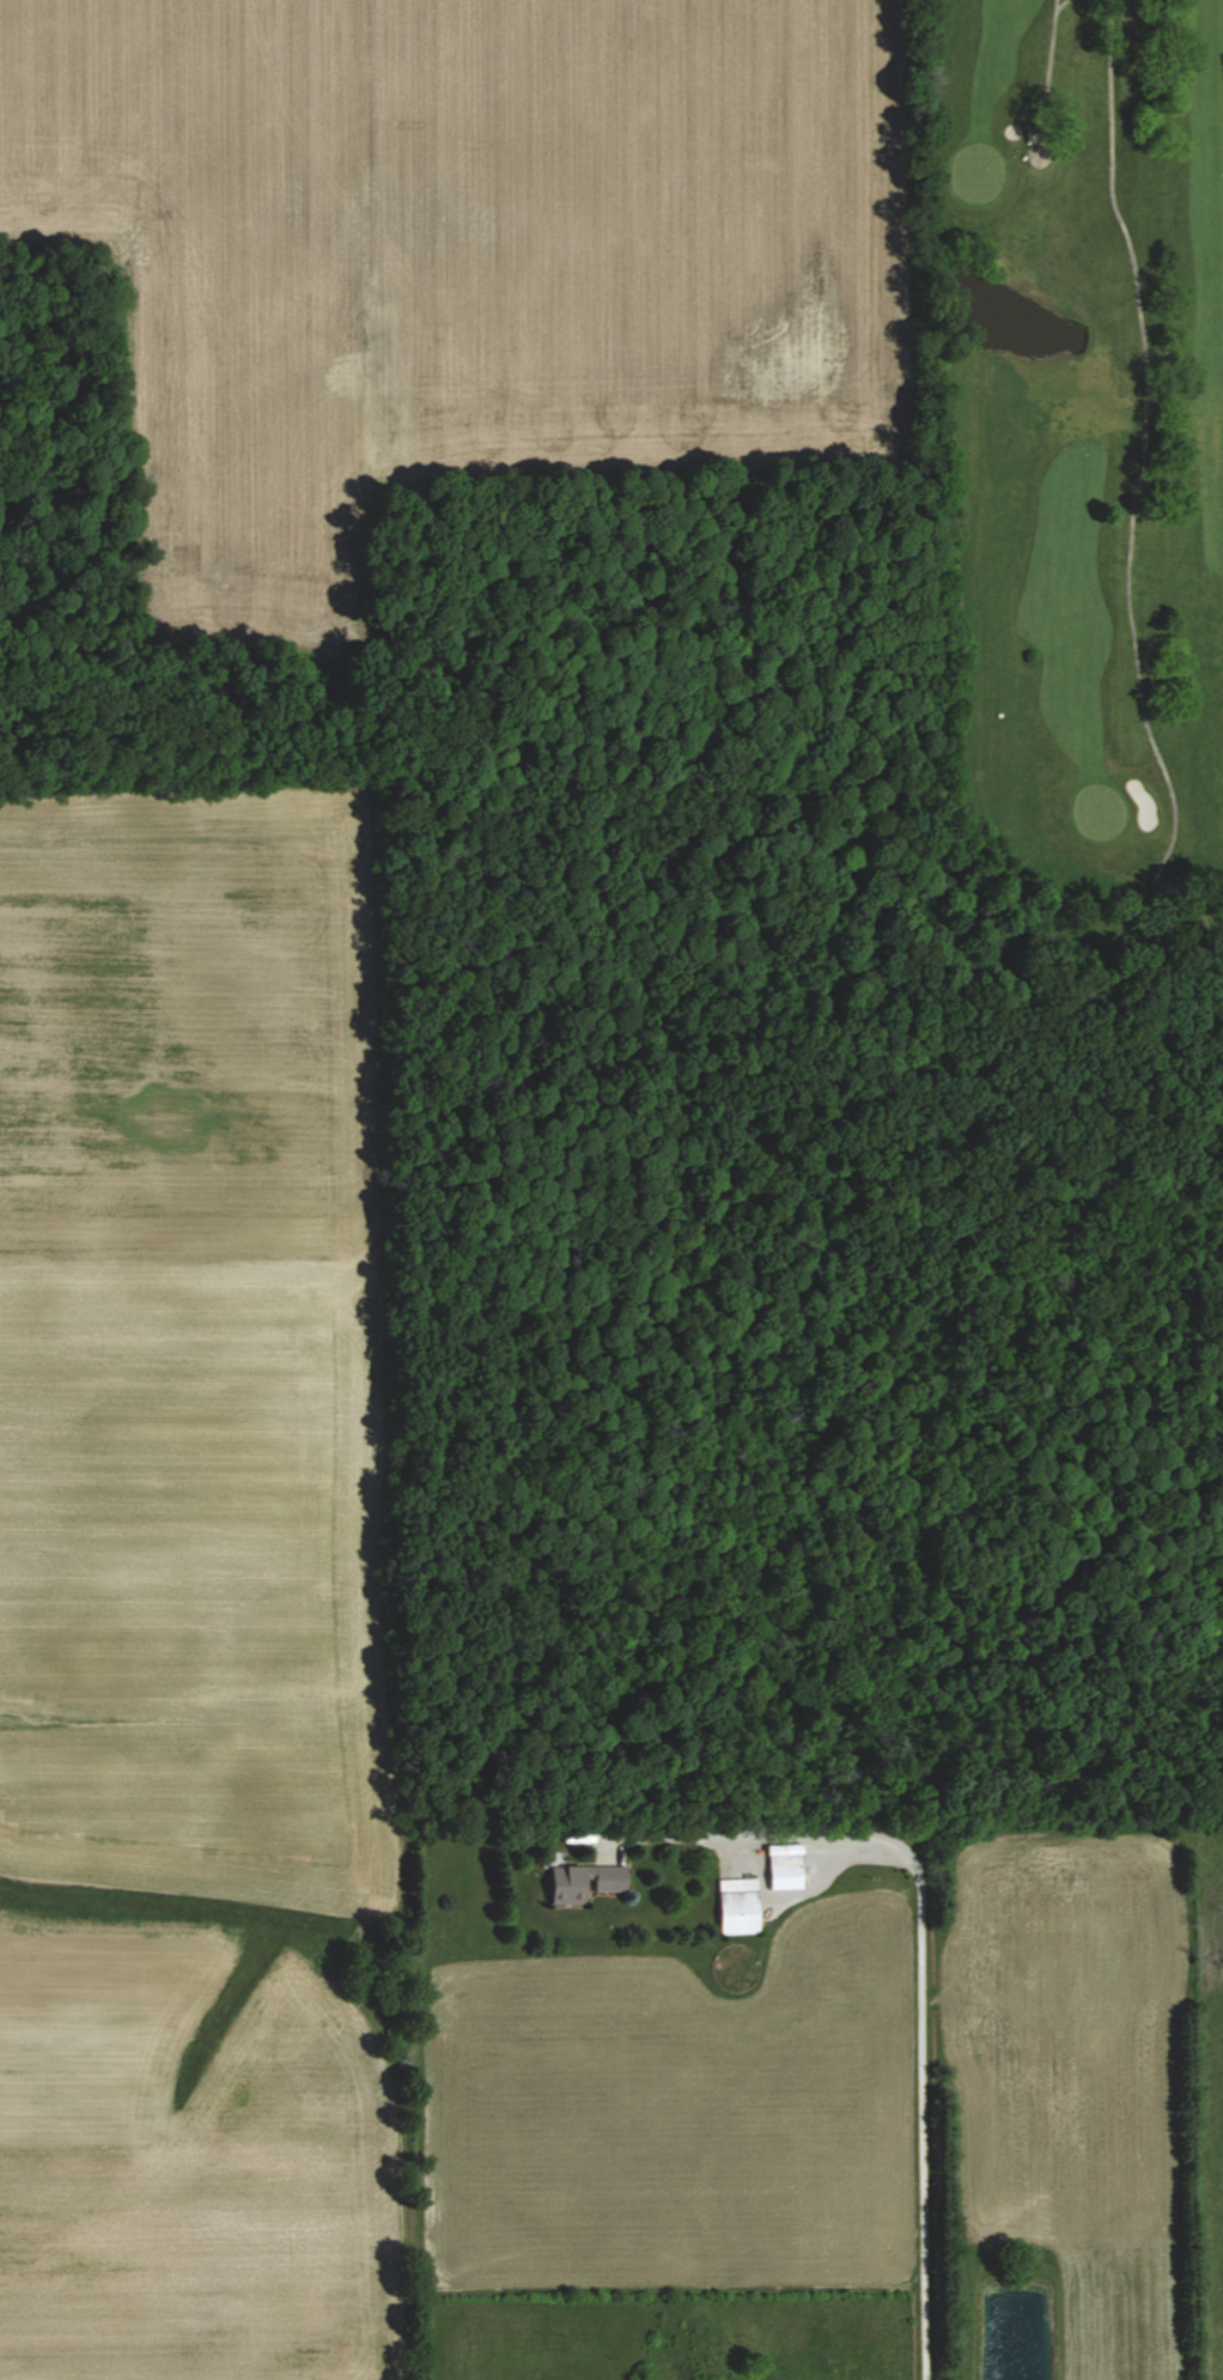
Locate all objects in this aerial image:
building: (786, 1866)
building: (586, 1882)
building: (740, 1906)
road: (921, 1961)

